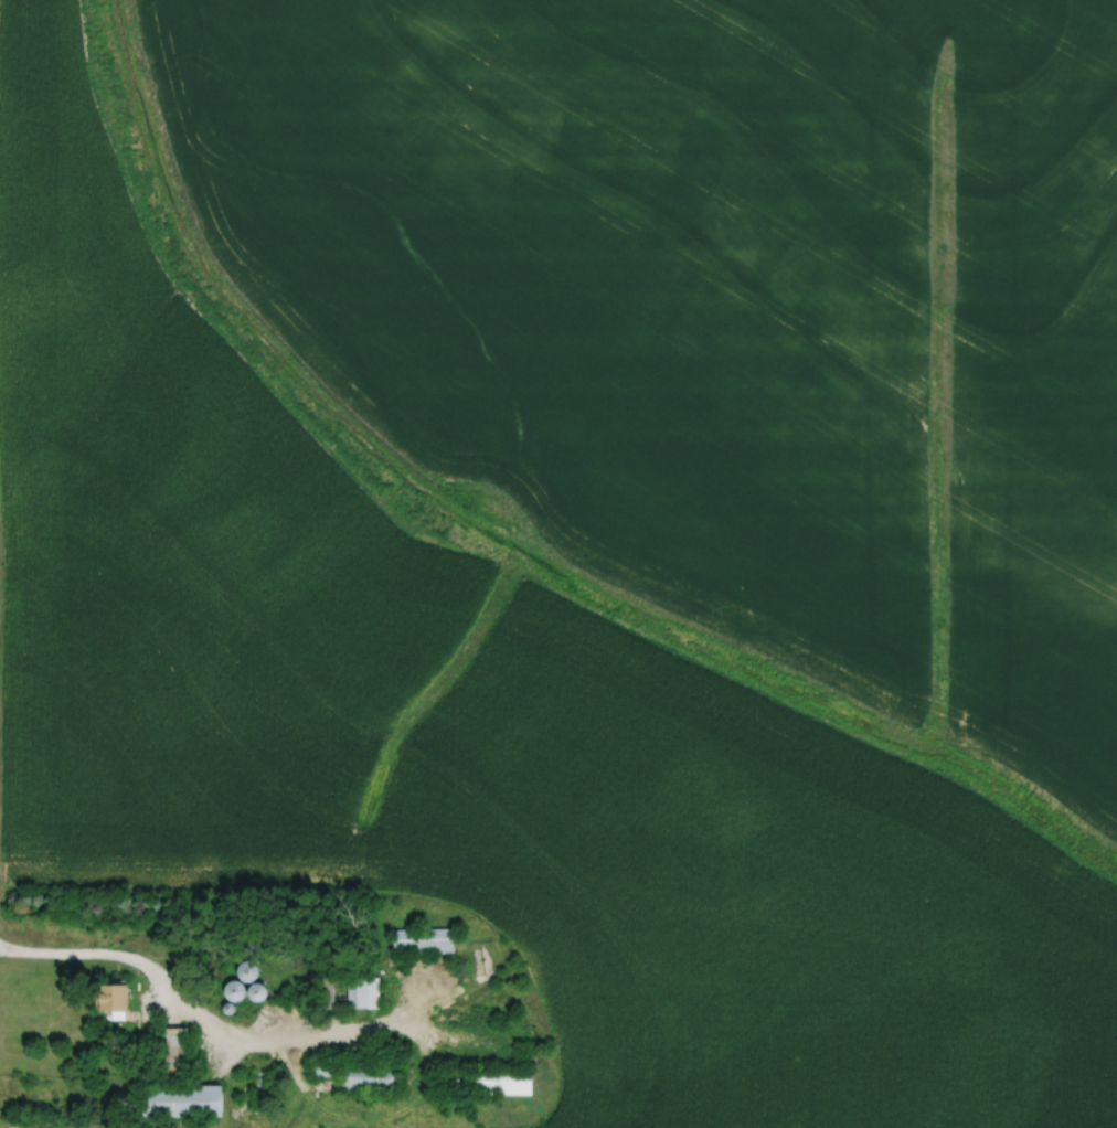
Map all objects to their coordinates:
building: (423, 939)
building: (248, 969)
building: (235, 989)
building: (258, 990)
building: (327, 991)
building: (363, 991)
building: (111, 997)
building: (228, 1007)
road: (237, 1035)
building: (146, 1040)
building: (171, 1053)
building: (327, 1067)
building: (371, 1075)
building: (458, 1081)
building: (502, 1081)
building: (263, 1090)
building: (182, 1100)

